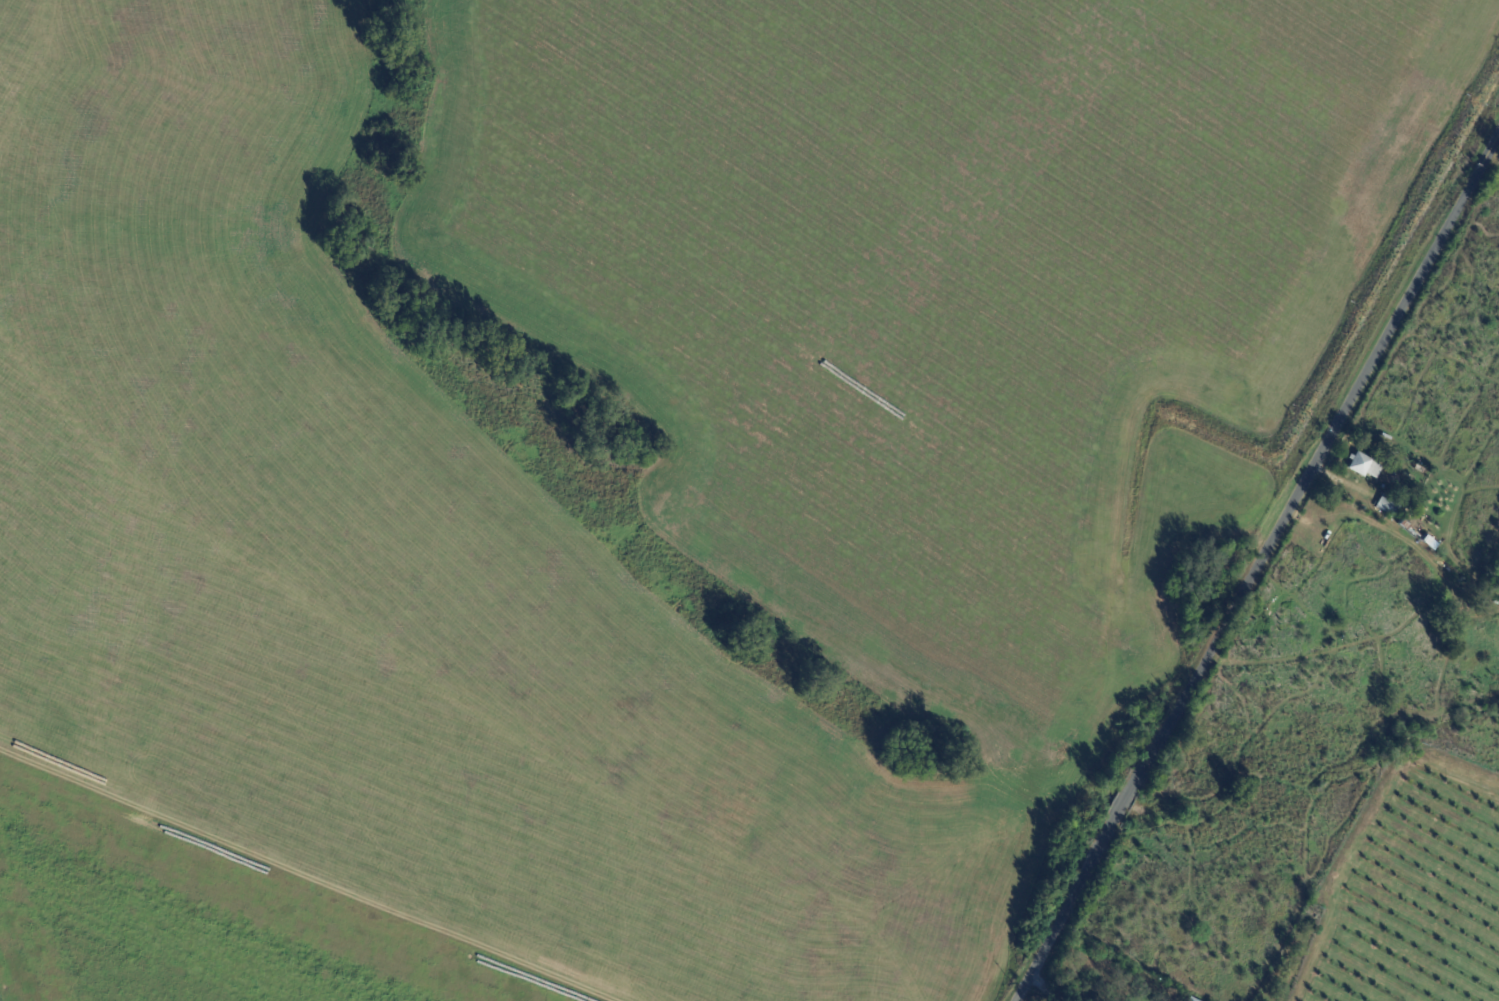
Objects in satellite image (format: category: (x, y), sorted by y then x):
building: (1364, 465)
building: (1418, 482)
building: (1388, 505)
building: (1225, 561)
road: (1257, 571)
crop: (396, 575)
crop: (1408, 892)
building: (1191, 1000)

